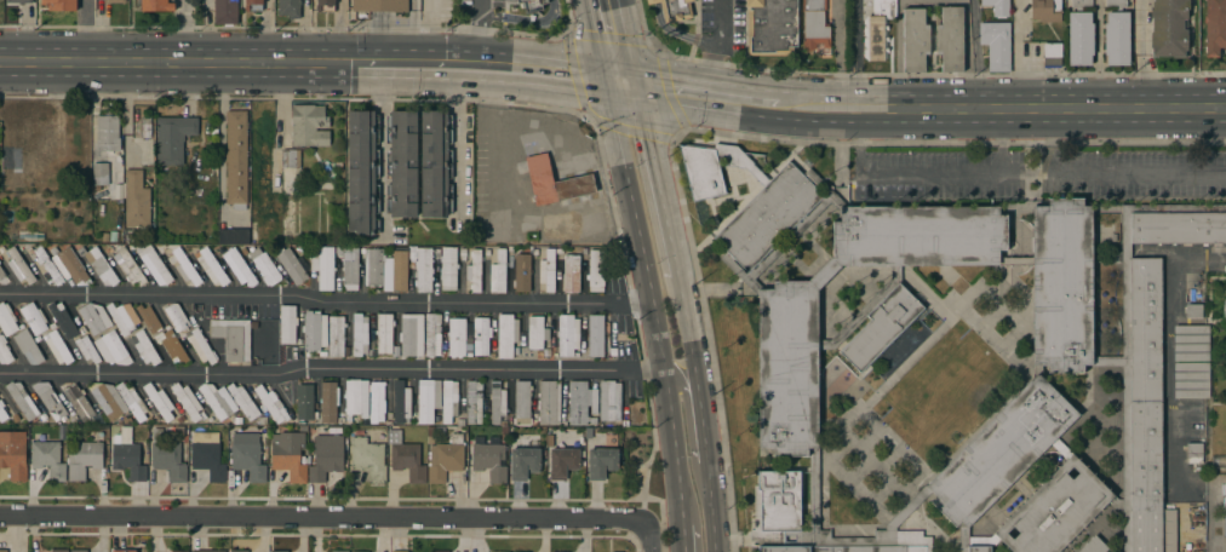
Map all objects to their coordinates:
building: (18, 1)
building: (114, 1)
building: (59, 5)
building: (156, 5)
building: (253, 5)
building: (323, 5)
building: (379, 5)
building: (532, 5)
building: (997, 7)
building: (288, 8)
building: (674, 8)
building: (1045, 10)
building: (224, 11)
building: (814, 24)
building: (770, 27)
building: (878, 27)
building: (1215, 27)
building: (1168, 28)
road: (86, 31)
road: (177, 31)
road: (268, 31)
road: (412, 33)
road: (477, 34)
building: (1079, 34)
building: (1116, 34)
road: (592, 39)
building: (913, 40)
building: (950, 40)
road: (626, 41)
building: (996, 45)
road: (717, 47)
road: (855, 54)
road: (976, 54)
road: (1018, 54)
building: (1052, 54)
road: (1138, 54)
road: (179, 63)
road: (480, 68)
traffic signals: (601, 79)
road: (618, 80)
traffic signals: (636, 82)
road: (705, 93)
road: (999, 109)
building: (309, 126)
building: (145, 127)
building: (108, 132)
road: (219, 137)
road: (458, 137)
building: (172, 138)
road: (1001, 143)
road: (382, 145)
building: (291, 159)
building: (236, 160)
building: (435, 163)
building: (401, 165)
building: (362, 172)
building: (99, 174)
road: (1138, 177)
building: (540, 178)
road: (952, 178)
road: (655, 179)
building: (136, 200)
building: (234, 236)
building: (253, 237)
building: (584, 251)
building: (534, 252)
building: (154, 265)
building: (292, 265)
building: (19, 266)
building: (47, 266)
building: (69, 266)
building: (101, 266)
building: (128, 266)
building: (184, 266)
building: (240, 266)
building: (264, 266)
building: (349, 266)
building: (211, 268)
building: (323, 268)
building: (448, 268)
building: (584, 268)
building: (386, 269)
building: (424, 270)
building: (548, 270)
building: (596, 270)
building: (474, 271)
building: (1, 272)
building: (498, 272)
building: (521, 272)
building: (571, 274)
building: (436, 277)
road: (326, 298)
road: (651, 300)
building: (1224, 307)
building: (1193, 311)
building: (176, 316)
building: (33, 317)
building: (94, 317)
building: (124, 318)
building: (148, 318)
building: (7, 320)
building: (63, 320)
building: (287, 324)
building: (314, 330)
building: (537, 332)
building: (384, 333)
building: (432, 334)
building: (567, 334)
building: (359, 335)
building: (411, 335)
building: (458, 335)
building: (506, 335)
building: (595, 335)
building: (336, 337)
building: (371, 337)
building: (481, 337)
building: (233, 338)
building: (1191, 343)
building: (797, 345)
building: (28, 346)
building: (443, 346)
building: (468, 346)
building: (57, 347)
building: (144, 347)
building: (168, 347)
building: (201, 347)
building: (492, 347)
building: (111, 349)
building: (86, 350)
building: (5, 351)
building: (395, 352)
road: (331, 369)
building: (1191, 380)
building: (356, 397)
road: (1168, 398)
building: (108, 399)
building: (428, 399)
building: (22, 401)
building: (131, 401)
building: (159, 401)
building: (187, 401)
building: (218, 401)
building: (242, 401)
building: (448, 401)
building: (609, 401)
building: (51, 402)
building: (78, 402)
building: (270, 402)
building: (304, 402)
building: (328, 402)
building: (377, 402)
building: (403, 402)
building: (487, 402)
building: (582, 402)
building: (522, 403)
building: (549, 403)
building: (10, 407)
road: (700, 413)
building: (2, 414)
building: (1191, 418)
building: (15, 419)
building: (126, 419)
building: (340, 420)
building: (348, 420)
building: (239, 421)
building: (263, 421)
building: (365, 422)
building: (460, 422)
road: (688, 424)
building: (63, 432)
building: (432, 433)
building: (1193, 449)
building: (13, 454)
building: (207, 455)
building: (288, 455)
building: (327, 455)
building: (127, 456)
building: (167, 458)
building: (405, 458)
building: (47, 459)
building: (84, 459)
building: (367, 459)
building: (445, 459)
building: (248, 461)
building: (488, 462)
building: (523, 462)
building: (563, 462)
building: (601, 462)
road: (323, 519)
road: (647, 537)
road: (682, 540)
building: (1093, 546)
building: (122, 550)
building: (2, 551)
building: (58, 551)
building: (78, 551)
building: (178, 551)
building: (207, 551)
building: (239, 551)
building: (279, 551)
building: (337, 551)
building: (395, 551)
building: (436, 551)
building: (494, 551)
building: (525, 551)

